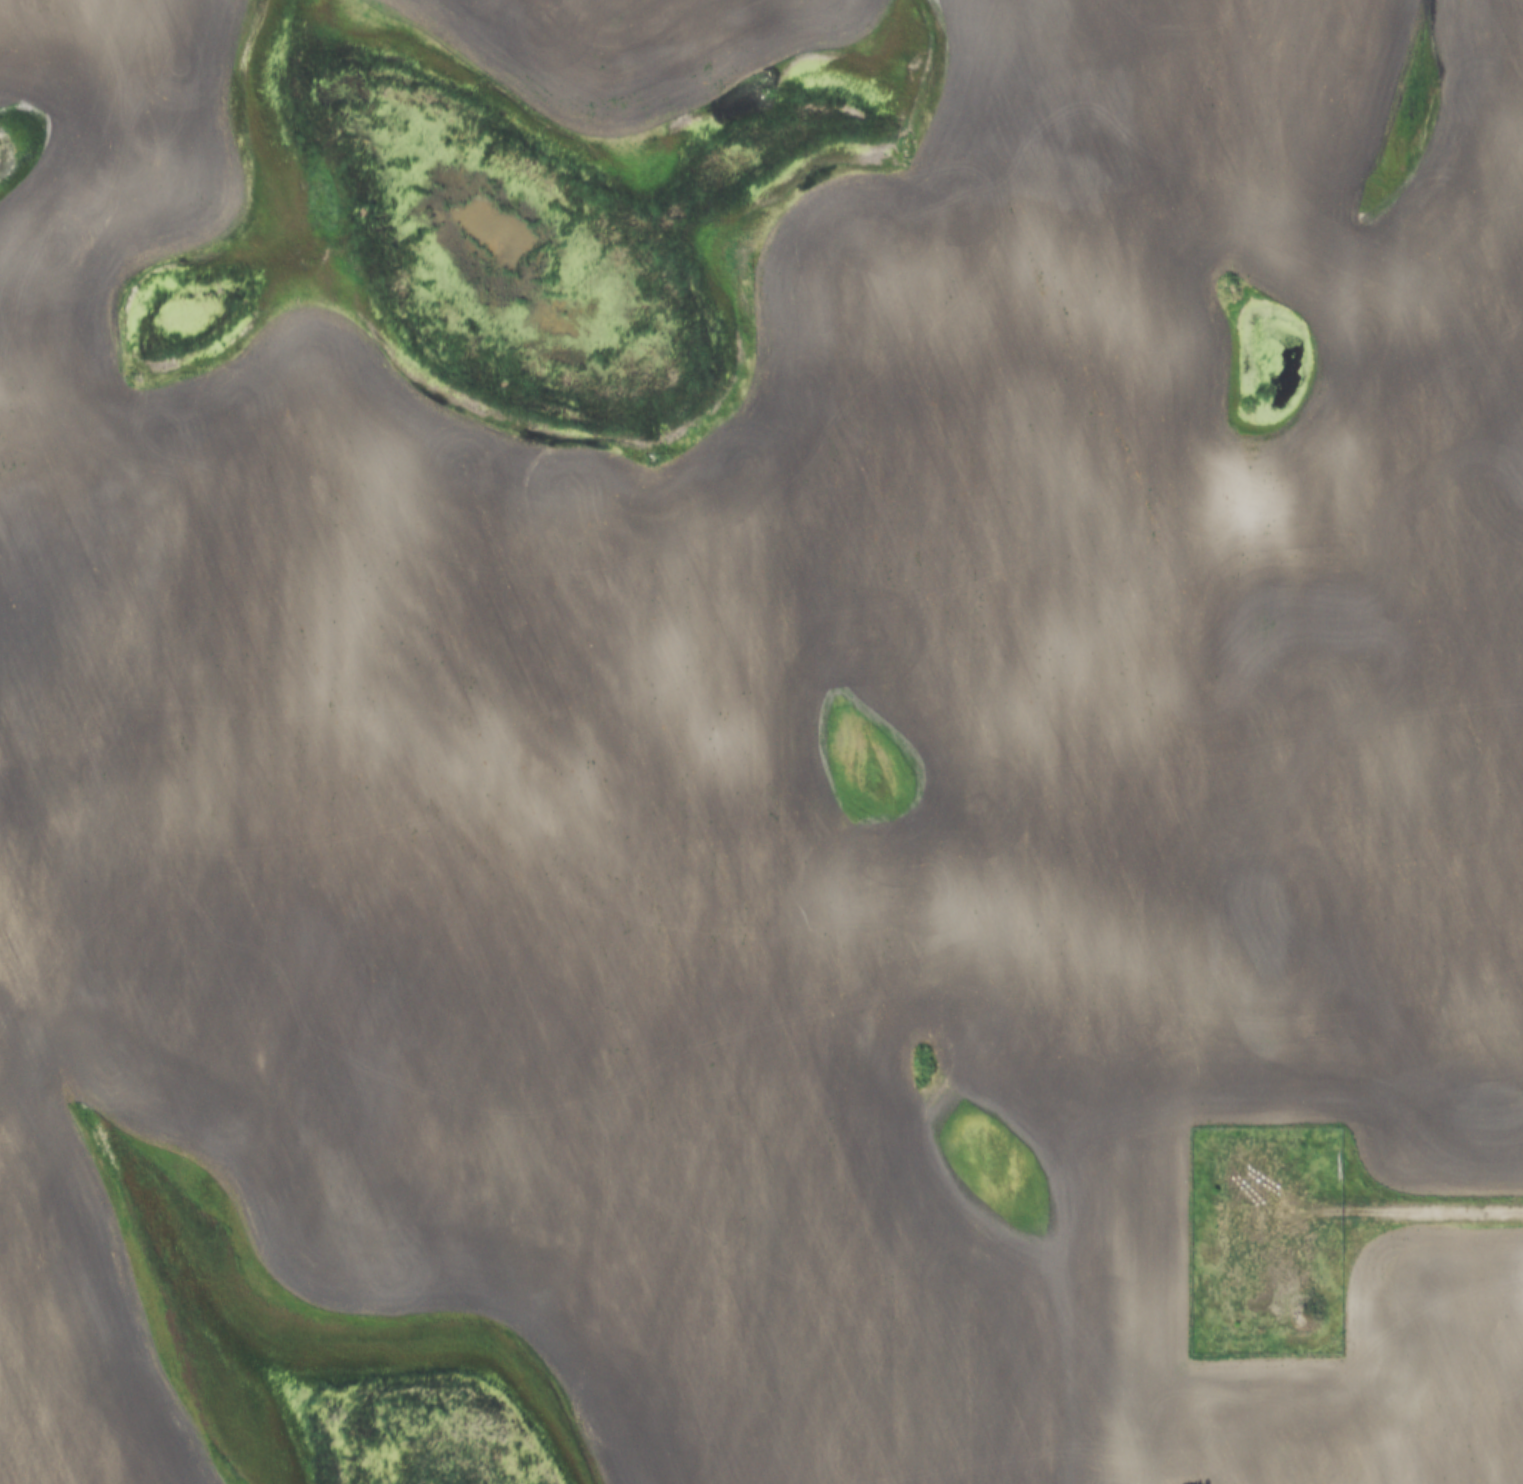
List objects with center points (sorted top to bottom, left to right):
road: (1371, 1214)

